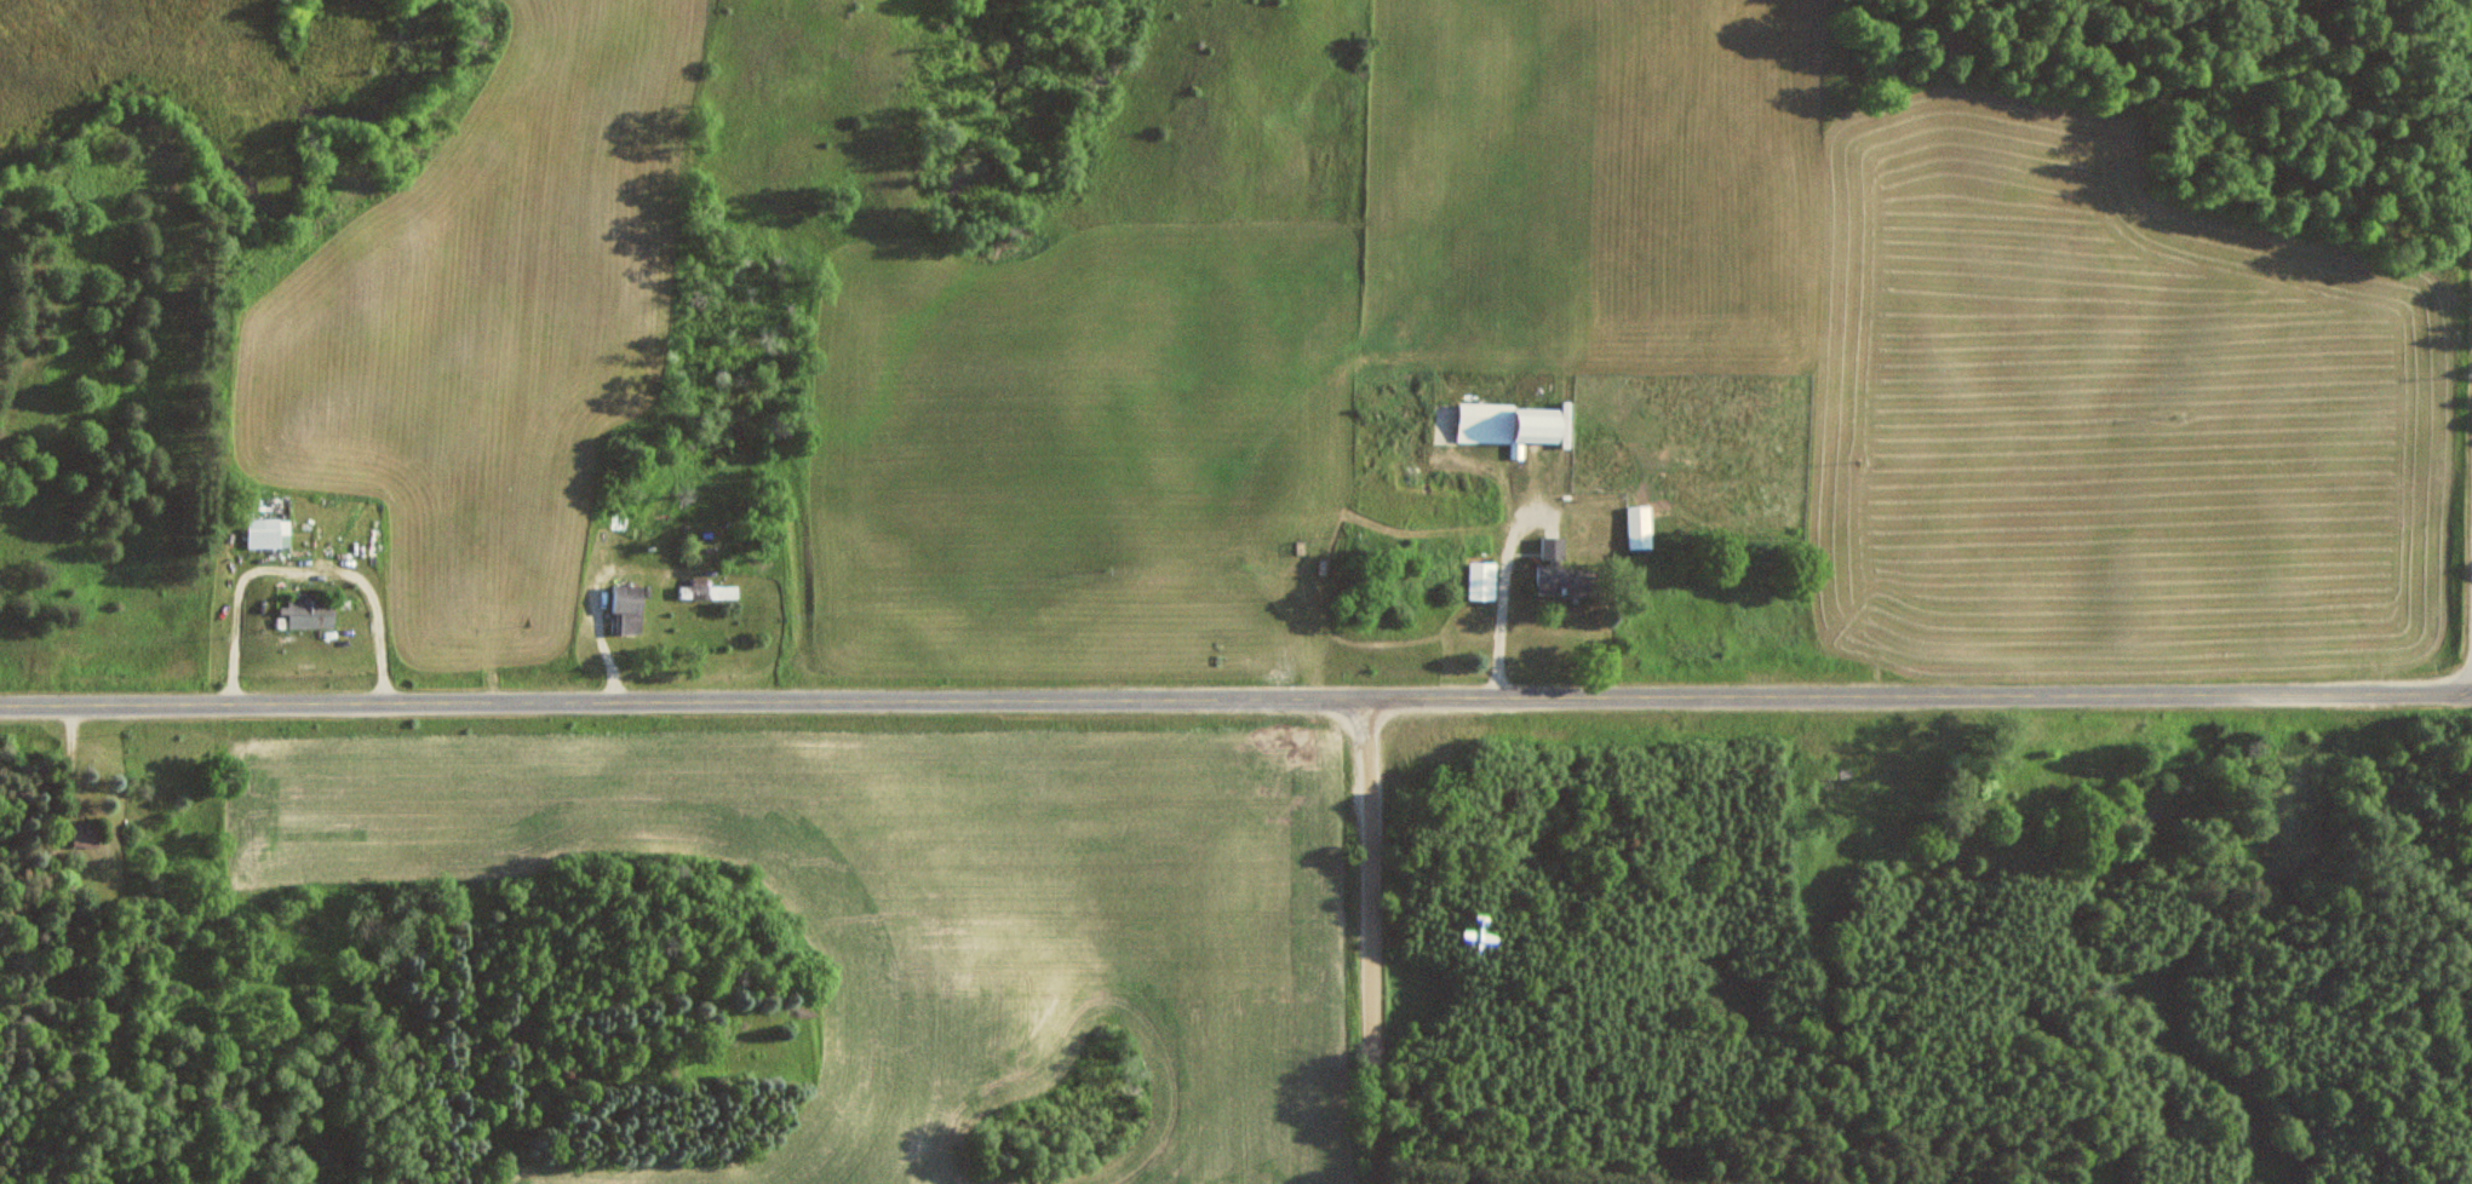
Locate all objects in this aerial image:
building: (1513, 425)
building: (1642, 527)
building: (1486, 580)
building: (1572, 580)
building: (711, 591)
building: (630, 609)
building: (311, 613)
road: (1235, 697)
building: (87, 833)
road: (1370, 941)

